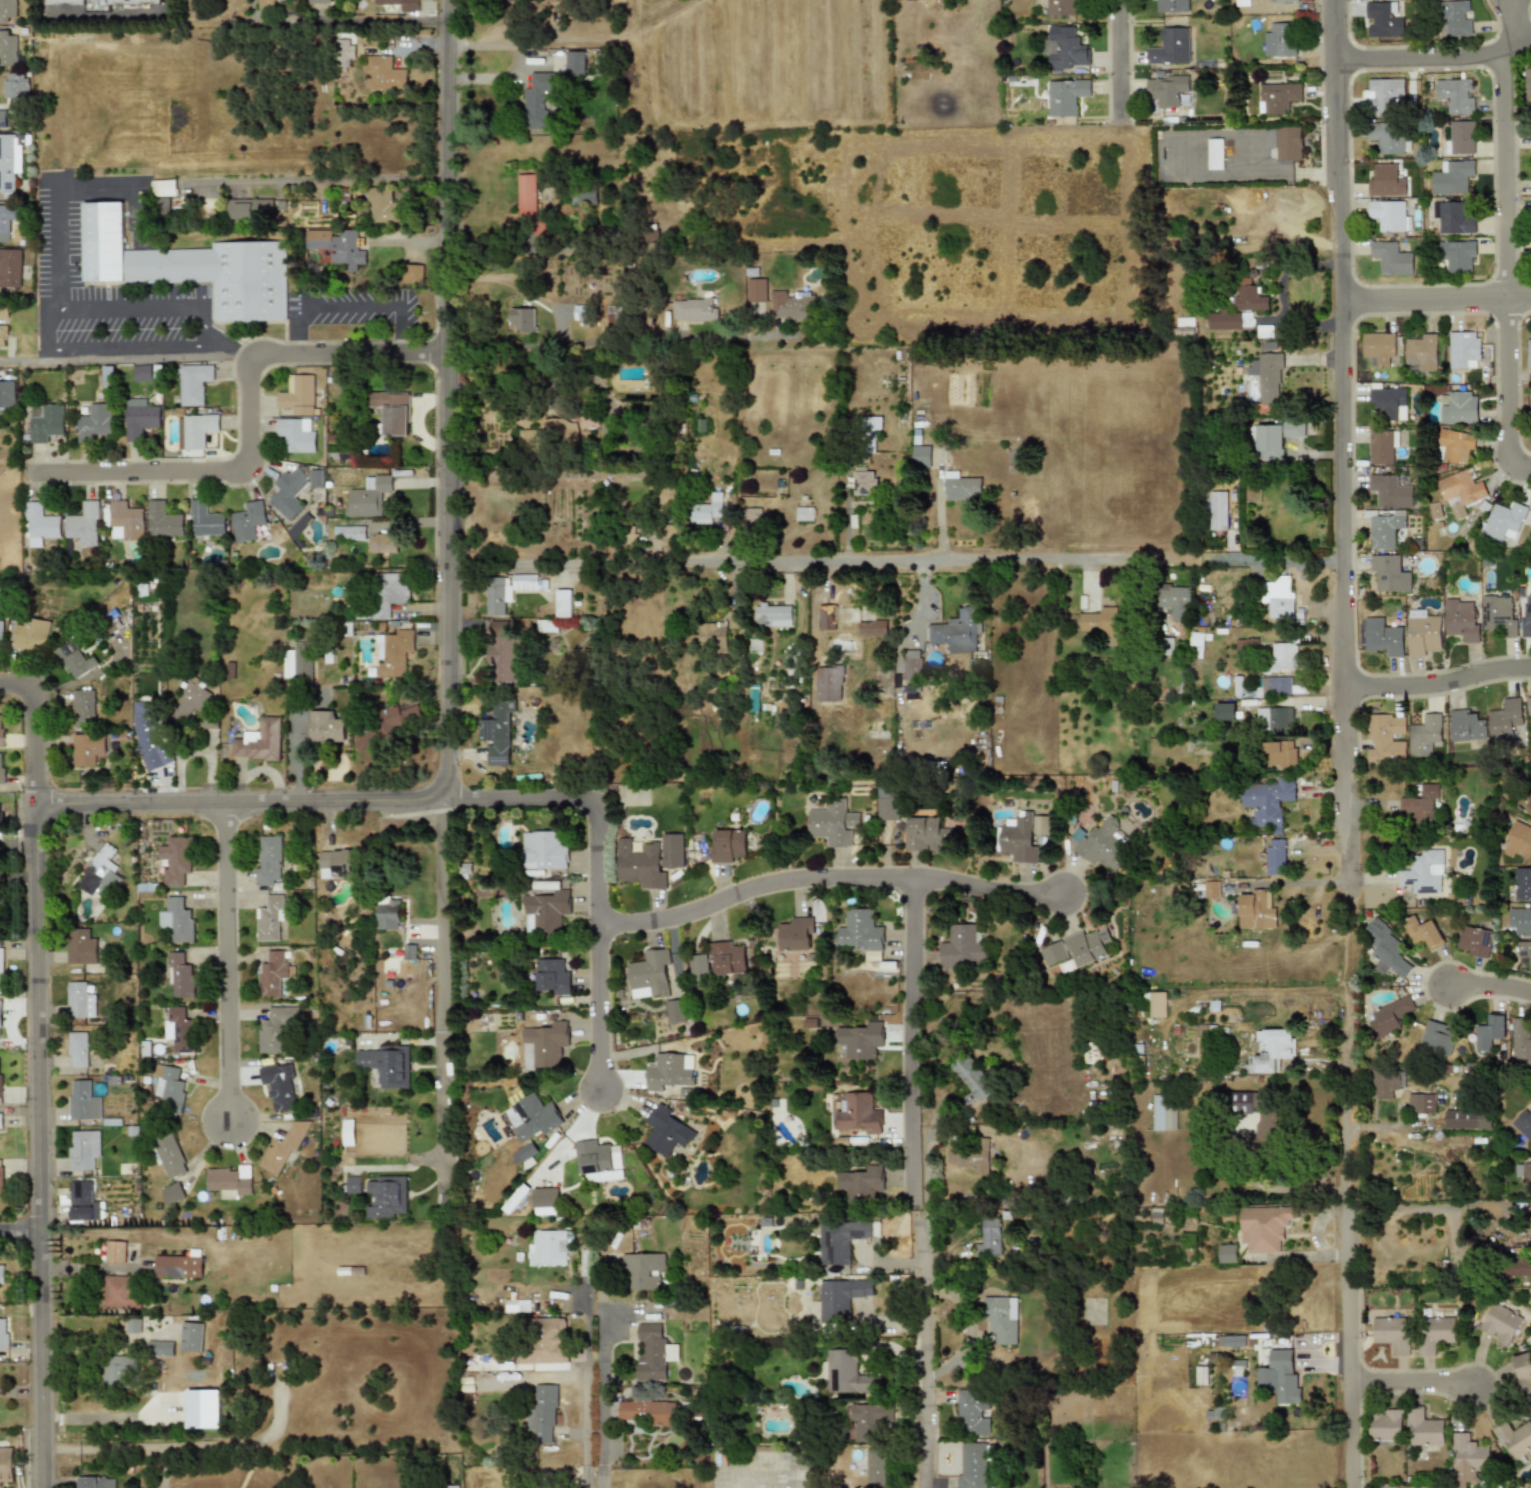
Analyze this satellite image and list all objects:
building: (927, 0)
building: (320, 1)
building: (1285, 1)
building: (101, 3)
building: (401, 4)
building: (267, 5)
building: (1171, 5)
building: (1060, 7)
building: (8, 11)
road: (366, 18)
building: (1454, 18)
building: (1383, 19)
road: (1515, 22)
building: (1279, 39)
building: (1065, 47)
building: (1170, 47)
building: (8, 48)
road: (1434, 56)
road: (1116, 57)
building: (568, 62)
building: (383, 72)
building: (16, 85)
building: (1527, 87)
building: (1165, 90)
building: (1456, 95)
building: (1065, 96)
building: (1278, 96)
building: (1385, 96)
building: (538, 99)
building: (3, 119)
building: (1387, 136)
building: (1462, 137)
building: (1288, 143)
building: (1214, 154)
building: (10, 160)
road: (1259, 174)
building: (1452, 176)
road: (319, 180)
building: (1386, 181)
building: (164, 188)
building: (526, 195)
building: (584, 195)
building: (383, 205)
building: (250, 209)
building: (1389, 215)
building: (1453, 218)
building: (8, 220)
parking lot: (59, 241)
road: (59, 246)
building: (336, 246)
building: (1458, 255)
building: (1391, 258)
building: (188, 266)
building: (10, 267)
road: (1507, 268)
road: (1341, 279)
building: (756, 290)
building: (1249, 296)
road: (1436, 300)
building: (791, 305)
road: (352, 306)
road: (127, 309)
building: (694, 309)
building: (4, 310)
parking lot: (350, 312)
building: (582, 312)
building: (522, 319)
road: (206, 320)
road: (49, 330)
building: (3, 336)
road: (207, 339)
road: (602, 342)
road: (223, 343)
building: (1379, 346)
road: (128, 348)
building: (1463, 349)
road: (346, 351)
building: (1421, 353)
building: (1528, 355)
road: (124, 359)
building: (141, 372)
building: (1269, 375)
building: (193, 383)
building: (298, 393)
building: (7, 398)
road: (445, 398)
building: (1389, 404)
building: (1458, 407)
building: (1530, 410)
building: (394, 412)
building: (140, 417)
building: (94, 421)
building: (45, 422)
building: (196, 431)
building: (297, 433)
building: (547, 435)
building: (1276, 437)
building: (1456, 445)
building: (1384, 446)
building: (920, 454)
road: (197, 469)
building: (865, 483)
building: (960, 489)
building: (1460, 491)
building: (289, 492)
building: (1392, 492)
building: (368, 496)
building: (707, 510)
building: (1220, 511)
building: (804, 513)
building: (163, 519)
building: (205, 519)
building: (753, 519)
building: (124, 520)
building: (1506, 520)
building: (248, 521)
building: (84, 523)
building: (40, 524)
building: (300, 525)
building: (1387, 531)
building: (350, 532)
building: (385, 543)
road: (893, 557)
building: (1391, 574)
building: (389, 593)
building: (497, 595)
building: (1280, 598)
building: (562, 603)
building: (1175, 603)
building: (826, 613)
building: (772, 615)
building: (1499, 615)
building: (1525, 617)
building: (735, 620)
building: (1461, 620)
building: (1106, 625)
building: (872, 628)
building: (957, 632)
building: (31, 633)
building: (1423, 633)
building: (712, 636)
building: (1, 637)
building: (1384, 637)
building: (1247, 645)
building: (394, 652)
building: (503, 652)
building: (1284, 657)
building: (74, 660)
building: (298, 664)
building: (913, 665)
road: (1437, 681)
building: (828, 684)
building: (1275, 685)
building: (189, 699)
building: (752, 699)
building: (1529, 705)
building: (83, 708)
building: (1225, 711)
building: (1274, 719)
building: (1505, 720)
building: (386, 726)
building: (1467, 726)
road: (32, 727)
building: (326, 727)
building: (2, 730)
building: (498, 731)
road: (1342, 735)
building: (1425, 735)
building: (1385, 738)
building: (147, 740)
building: (259, 741)
building: (87, 748)
building: (1279, 754)
building: (2, 769)
road: (585, 797)
road: (243, 801)
building: (887, 802)
building: (1268, 802)
building: (1529, 805)
building: (1421, 806)
building: (2, 815)
building: (832, 824)
building: (1040, 825)
building: (926, 834)
building: (1017, 840)
building: (1519, 842)
road: (17, 843)
building: (728, 846)
building: (543, 851)
building: (672, 851)
building: (1275, 857)
building: (270, 860)
building: (176, 861)
building: (341, 864)
building: (640, 865)
building: (100, 873)
building: (1424, 873)
building: (1523, 884)
road: (750, 887)
road: (982, 889)
building: (1211, 891)
building: (545, 911)
building: (1256, 912)
building: (390, 915)
building: (270, 919)
building: (176, 920)
building: (1521, 921)
building: (1421, 931)
building: (860, 933)
building: (792, 935)
building: (1474, 941)
building: (962, 946)
building: (1087, 946)
building: (1386, 949)
building: (1524, 949)
building: (81, 952)
building: (411, 952)
building: (1053, 954)
building: (728, 958)
building: (1, 962)
building: (699, 965)
road: (227, 966)
building: (274, 974)
building: (649, 974)
building: (180, 977)
building: (552, 977)
road: (1488, 983)
road: (449, 997)
building: (80, 1001)
building: (1157, 1004)
road: (599, 1005)
building: (674, 1011)
building: (0, 1017)
building: (1390, 1017)
building: (277, 1027)
building: (179, 1031)
building: (1490, 1032)
road: (911, 1039)
building: (1437, 1039)
building: (1521, 1041)
building: (862, 1042)
building: (547, 1043)
building: (77, 1050)
building: (1272, 1050)
building: (387, 1065)
building: (669, 1071)
building: (975, 1076)
building: (1, 1081)
building: (1388, 1083)
building: (279, 1087)
building: (170, 1089)
building: (83, 1101)
building: (1421, 1103)
building: (858, 1113)
building: (1165, 1113)
building: (533, 1118)
building: (1461, 1119)
building: (1, 1121)
building: (1523, 1124)
building: (1270, 1125)
building: (666, 1131)
building: (348, 1132)
road: (36, 1144)
building: (283, 1147)
building: (84, 1149)
building: (972, 1156)
building: (170, 1157)
building: (597, 1160)
building: (1524, 1174)
building: (1, 1177)
road: (929, 1177)
building: (230, 1180)
building: (862, 1184)
building: (353, 1185)
building: (172, 1193)
building: (387, 1197)
building: (545, 1201)
building: (83, 1202)
road: (1415, 1209)
building: (1267, 1227)
road: (18, 1228)
building: (991, 1238)
building: (841, 1240)
building: (550, 1248)
building: (115, 1252)
building: (1227, 1253)
road: (924, 1266)
building: (1516, 1266)
building: (178, 1267)
building: (644, 1270)
building: (2, 1272)
road: (1349, 1272)
building: (121, 1292)
building: (840, 1299)
building: (1093, 1311)
building: (1003, 1319)
building: (1501, 1324)
building: (4, 1333)
building: (1393, 1333)
building: (1435, 1334)
building: (191, 1337)
building: (1232, 1341)
building: (546, 1343)
building: (160, 1349)
building: (653, 1352)
road: (598, 1360)
building: (1523, 1366)
building: (120, 1371)
building: (848, 1374)
building: (1282, 1377)
road: (1413, 1379)
road: (923, 1386)
building: (203, 1409)
building: (646, 1412)
building: (973, 1412)
building: (542, 1413)
building: (869, 1421)
building: (1388, 1426)
building: (1424, 1429)
building: (1517, 1439)
building: (1468, 1459)
road: (253, 1461)
building: (6, 1463)
building: (973, 1466)
building: (875, 1468)
building: (96, 1482)
building: (451, 1487)

